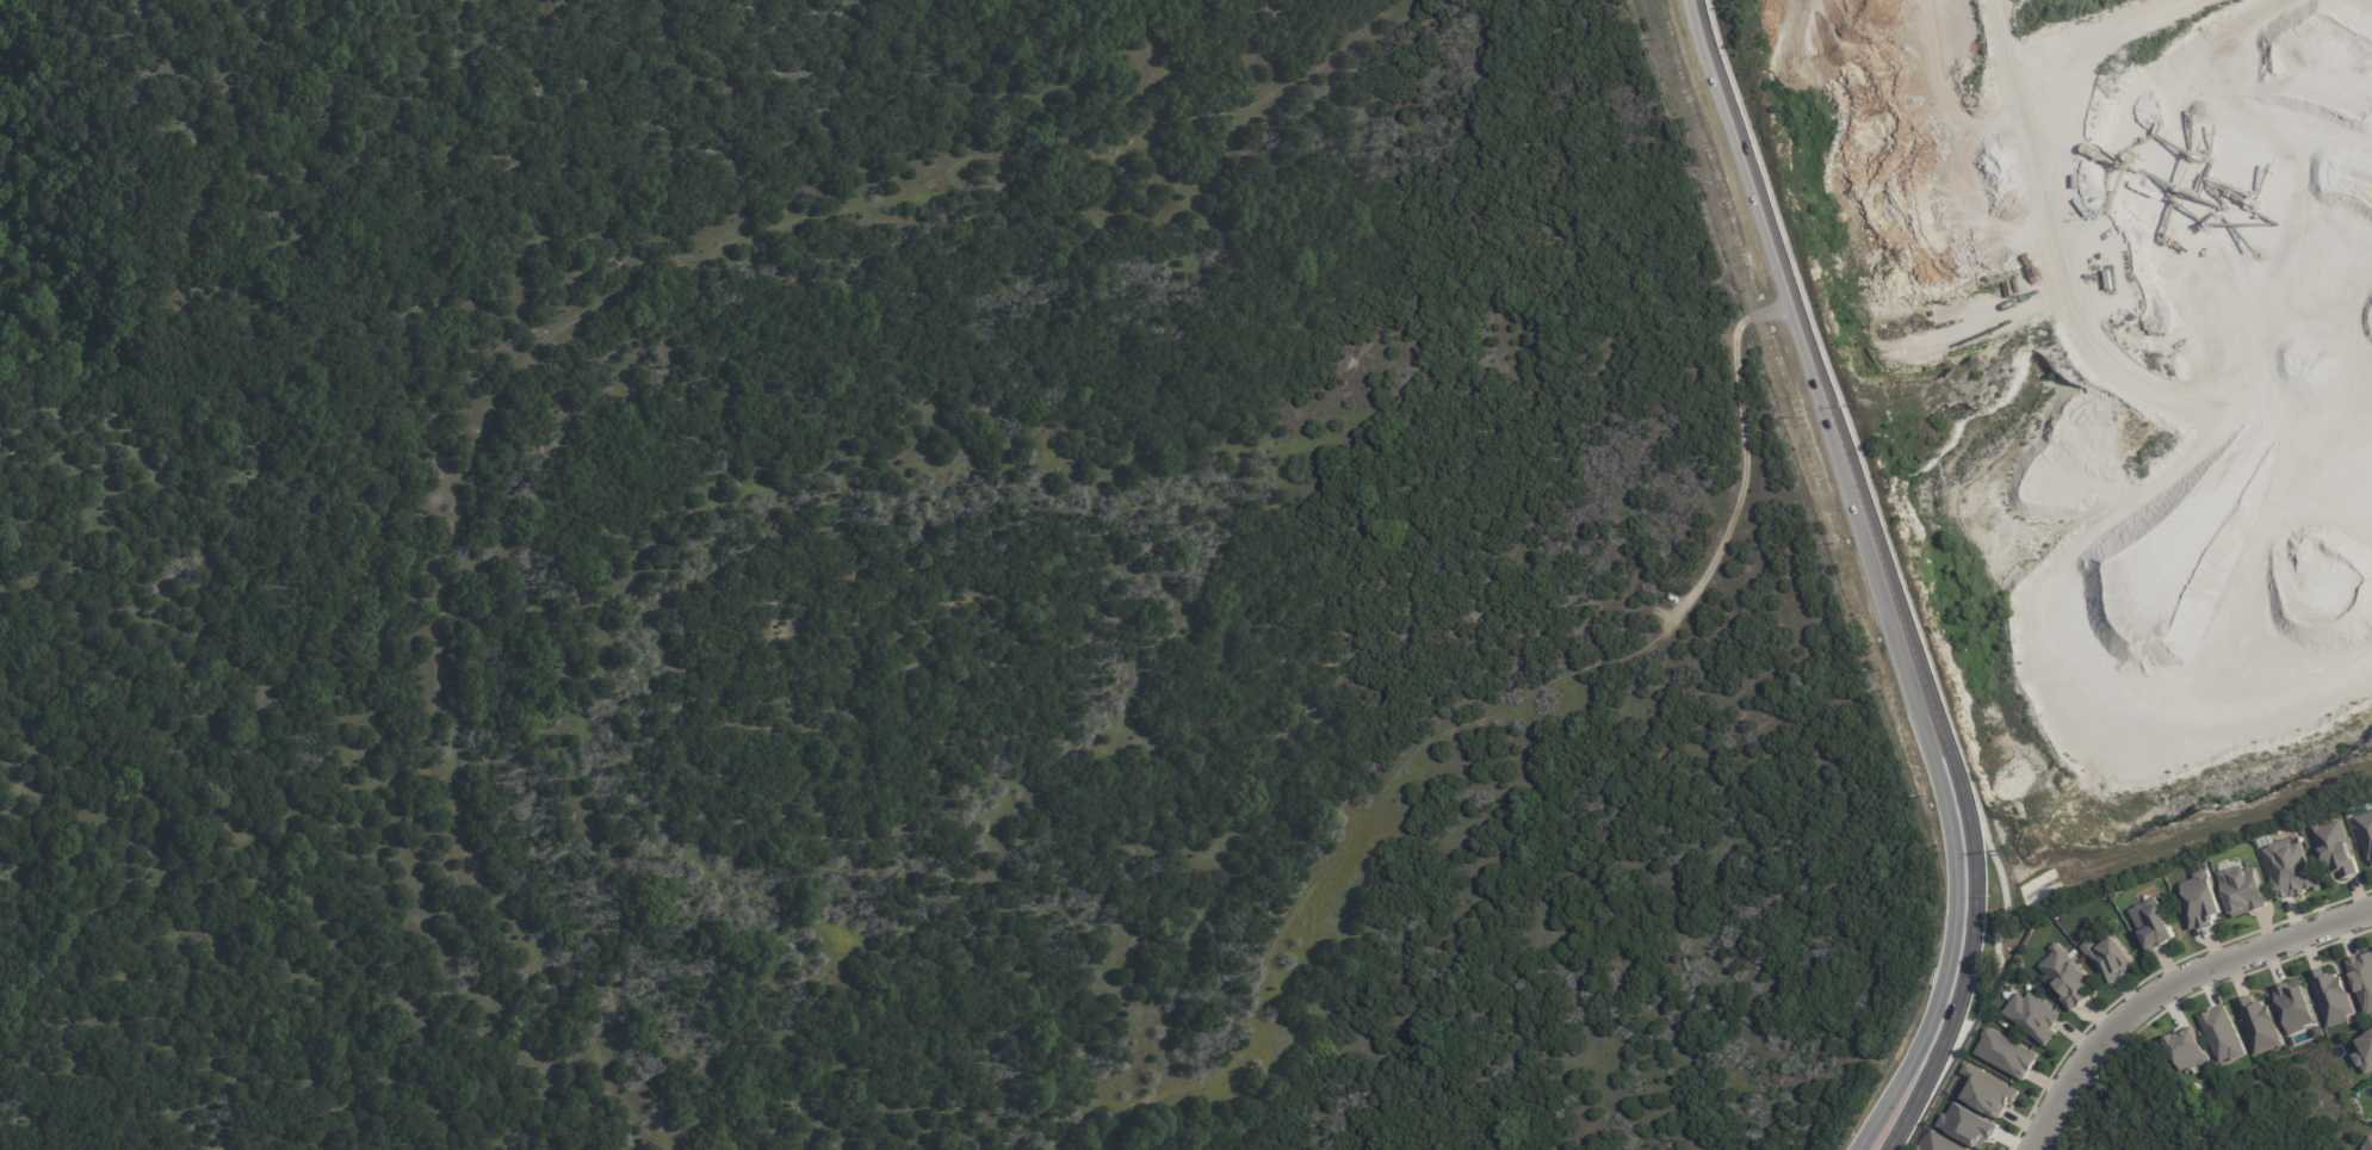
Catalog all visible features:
road: (2098, 293)
quarry: (2142, 342)
road: (1819, 375)
quarry: (2095, 408)
building: (2365, 830)
building: (2335, 847)
building: (2290, 868)
building: (2040, 886)
building: (2243, 889)
building: (2203, 899)
building: (2153, 923)
road: (1970, 953)
building: (2110, 957)
road: (1947, 959)
building: (2067, 976)
building: (2362, 978)
road: (2168, 987)
building: (2331, 995)
building: (2294, 1004)
building: (2032, 1015)
building: (2260, 1022)
building: (2222, 1033)
building: (2187, 1049)
building: (2006, 1052)
building: (2365, 1052)
building: (1988, 1090)
building: (1969, 1125)
building: (1939, 1142)
building: (2367, 1144)

